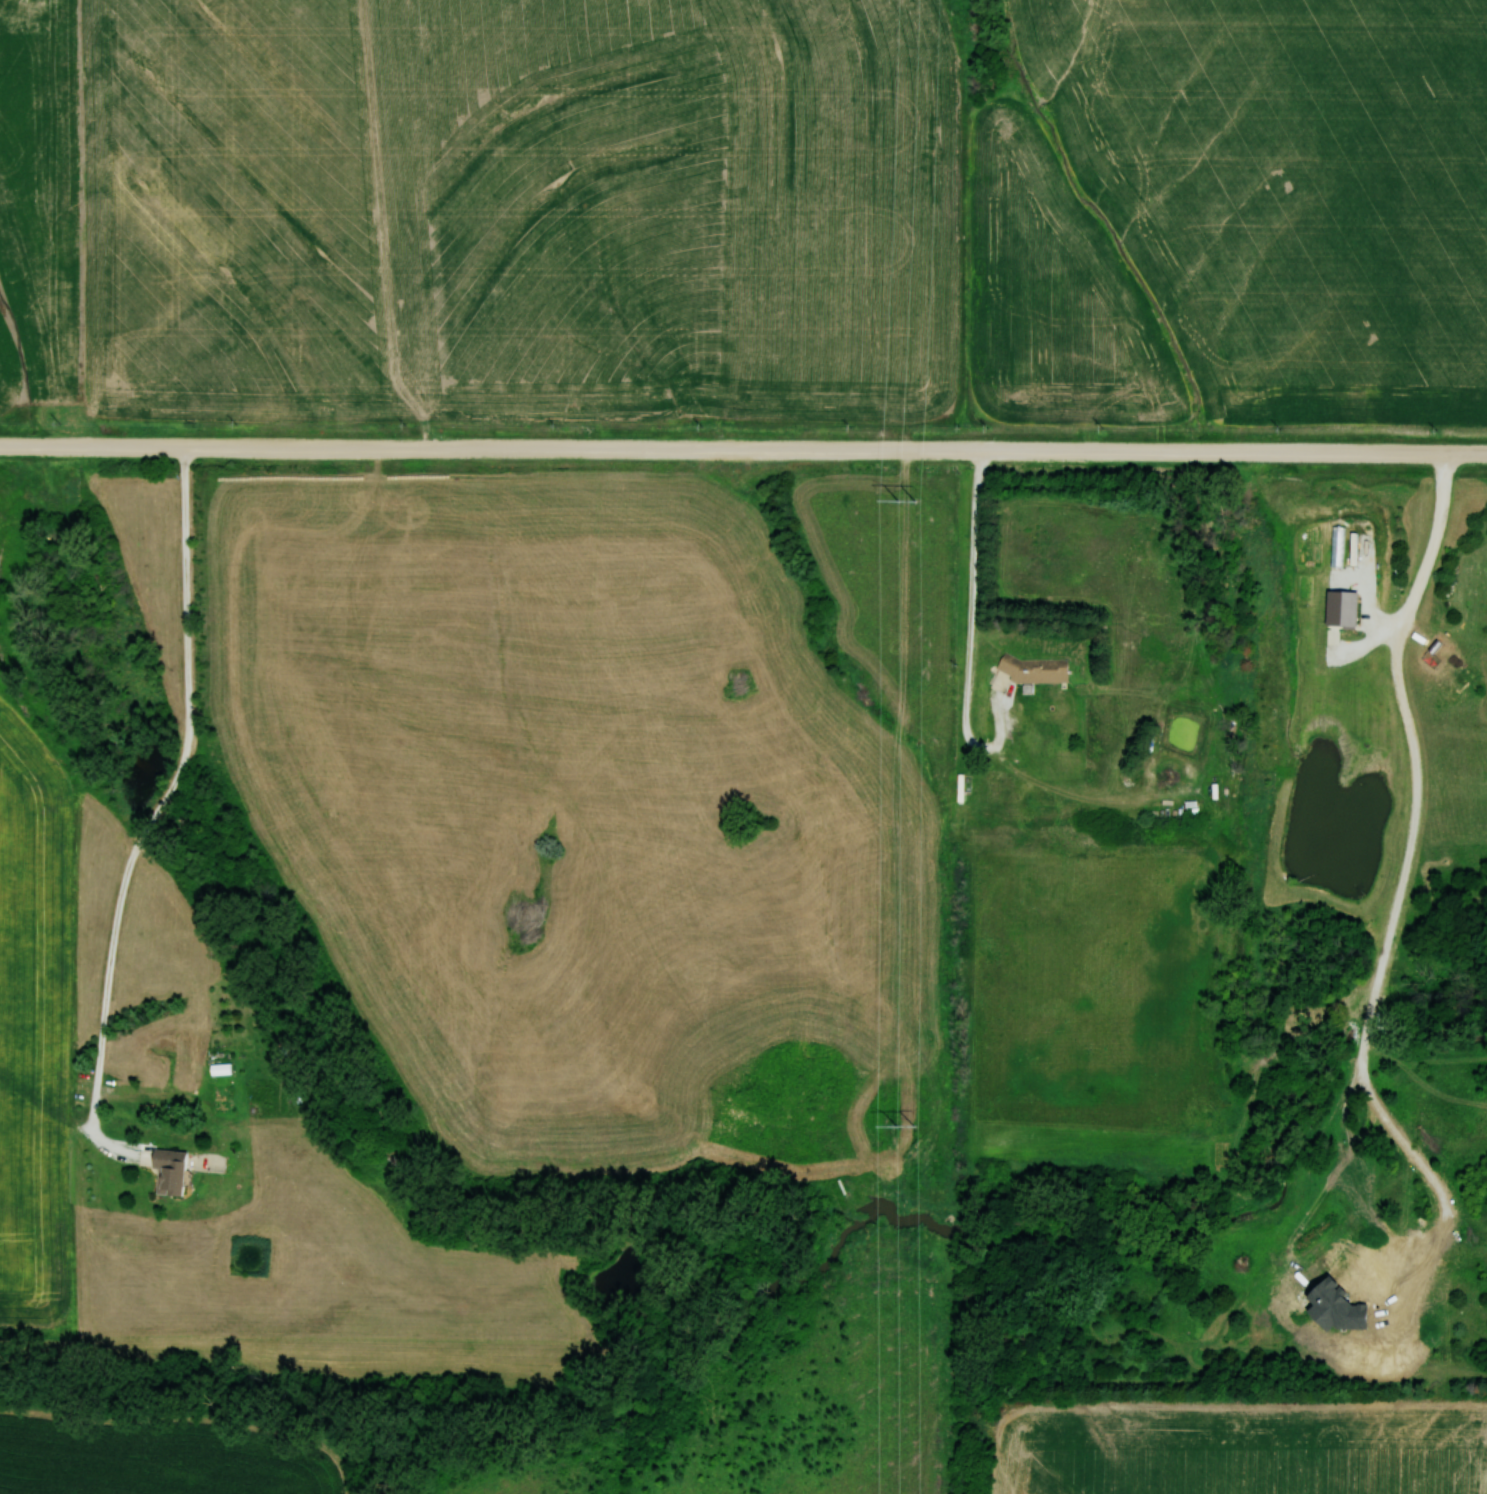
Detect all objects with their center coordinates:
road: (743, 450)
power tower: (908, 503)
road: (1425, 577)
road: (971, 630)
building: (1033, 669)
building: (958, 787)
building: (1024, 800)
road: (152, 817)
road: (1383, 964)
power tower: (910, 1132)
building: (179, 1172)

